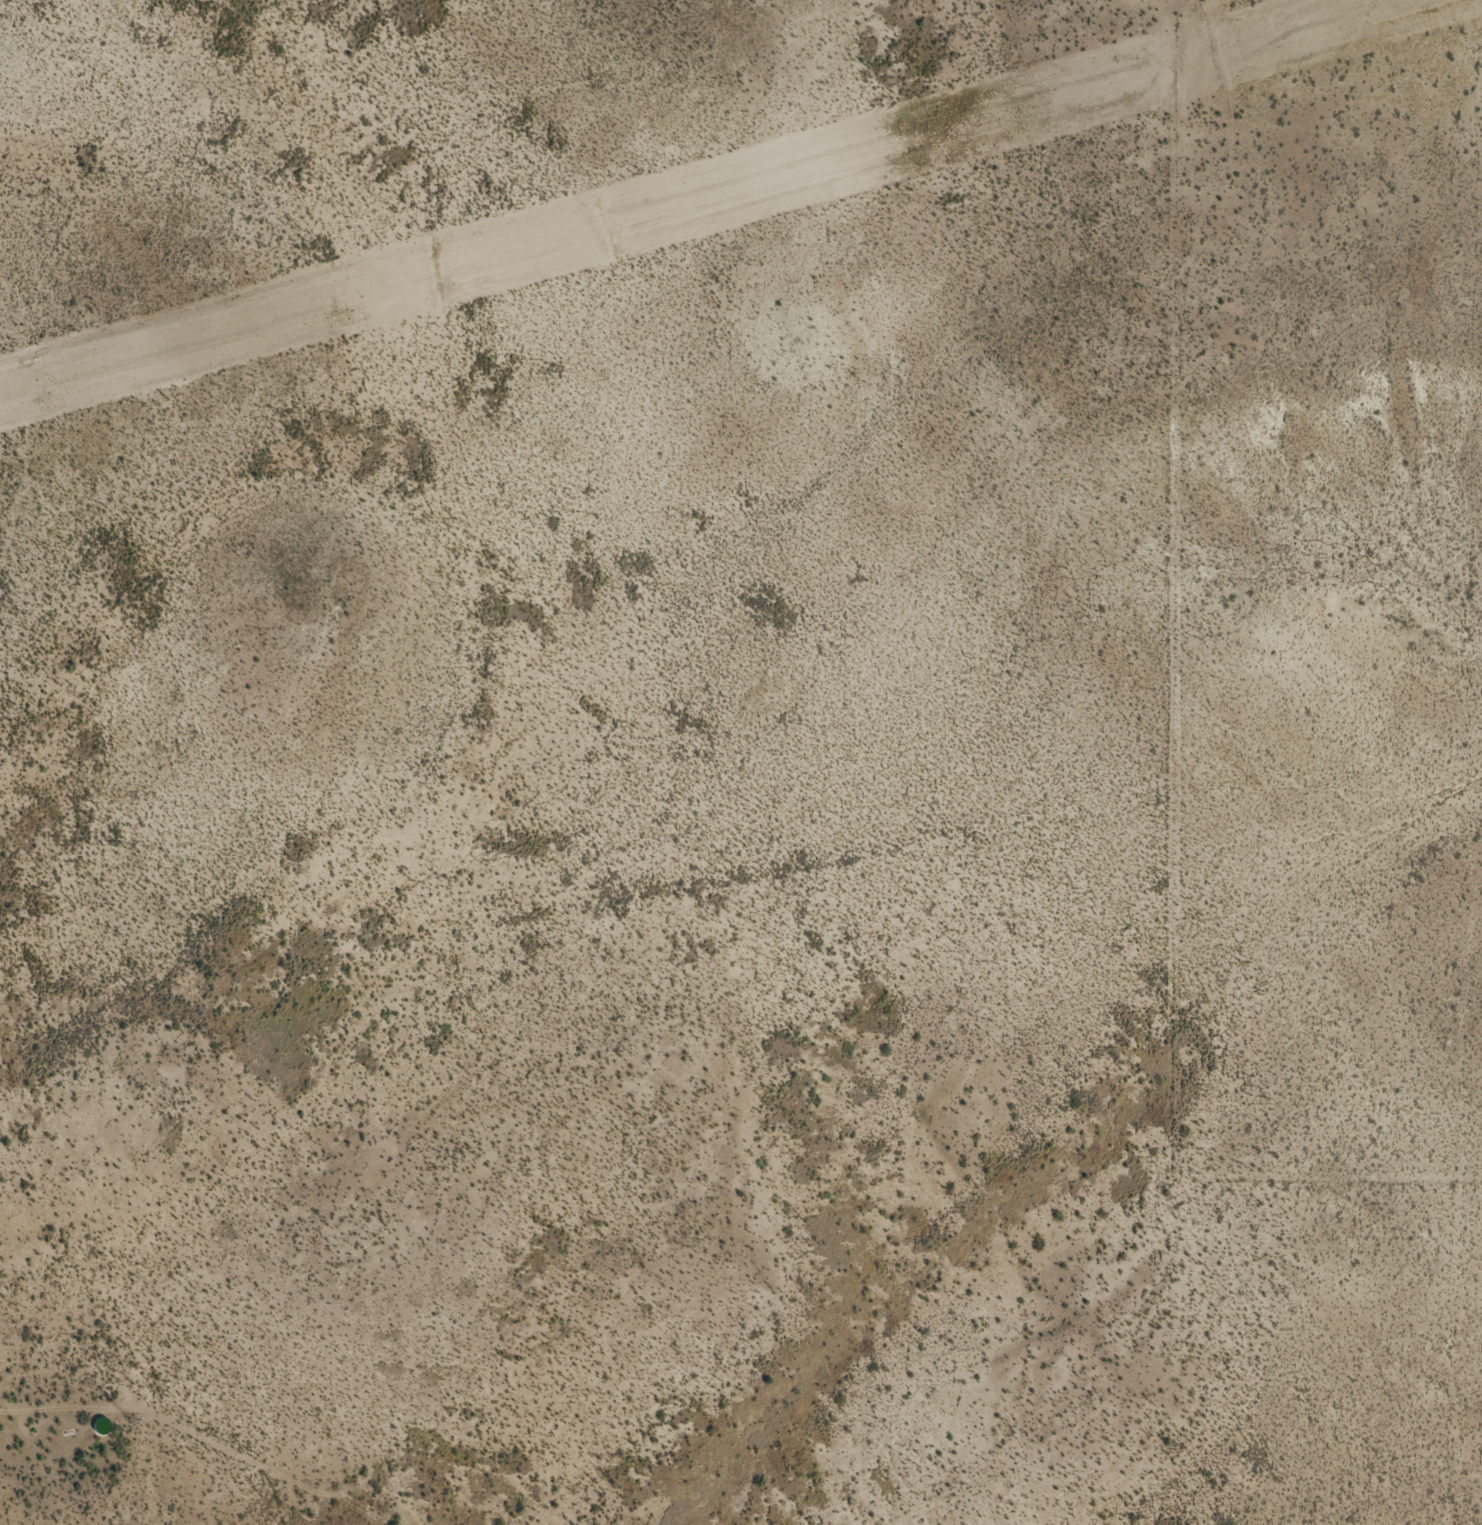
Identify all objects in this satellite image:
road: (80, 315)
road: (88, 1318)
road: (68, 1426)

